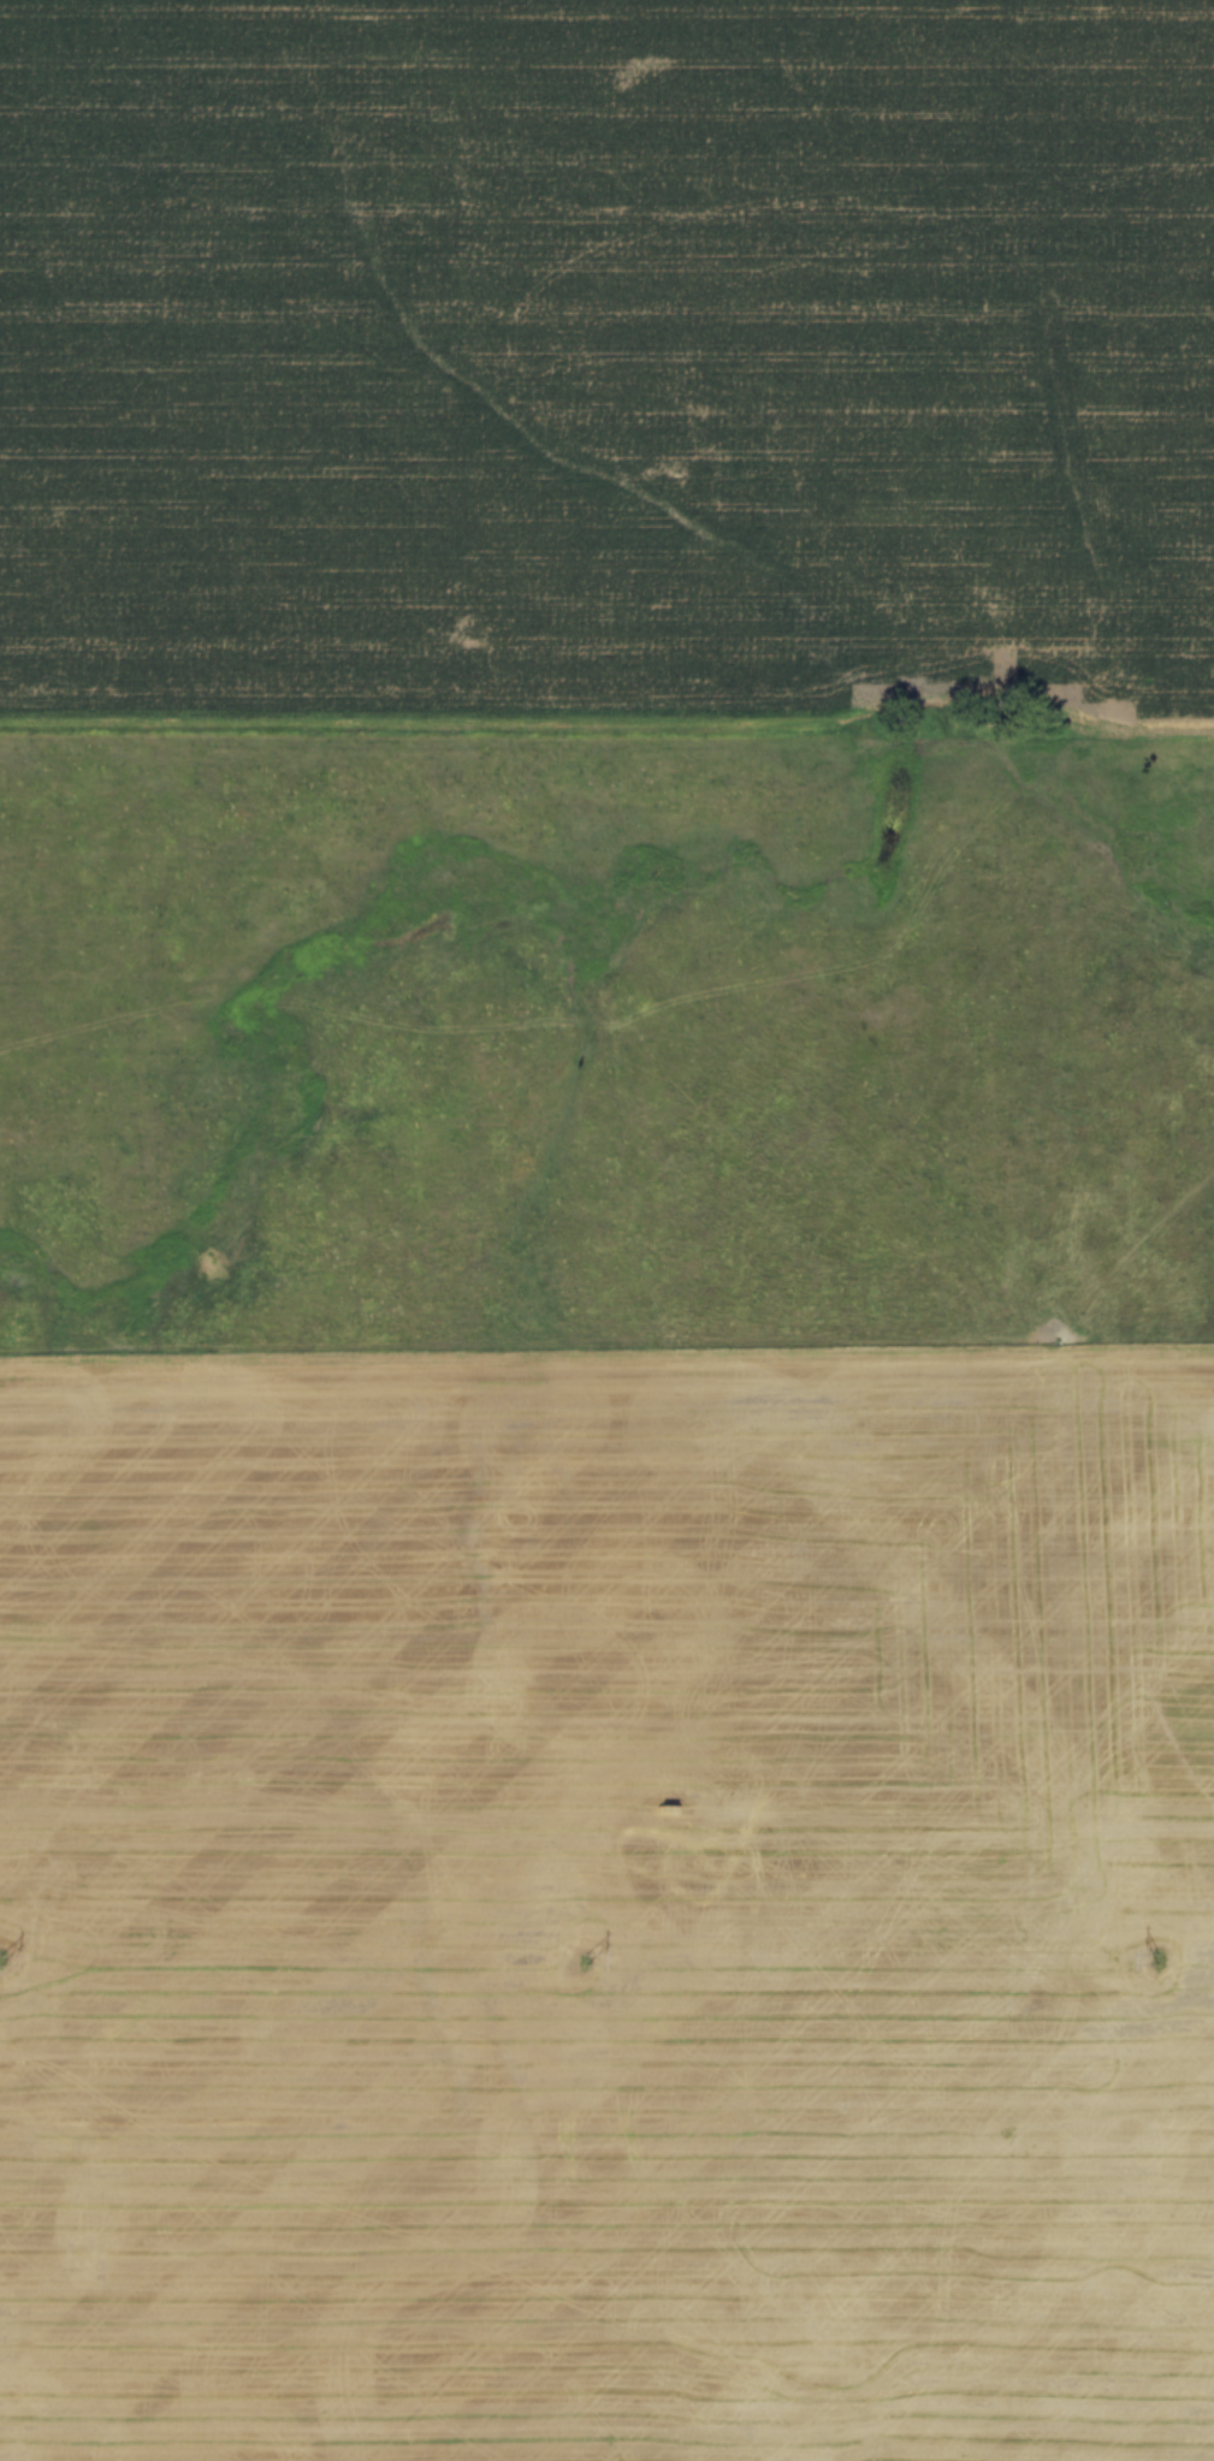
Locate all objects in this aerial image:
power tower: (1157, 1961)
power tower: (581, 1962)

